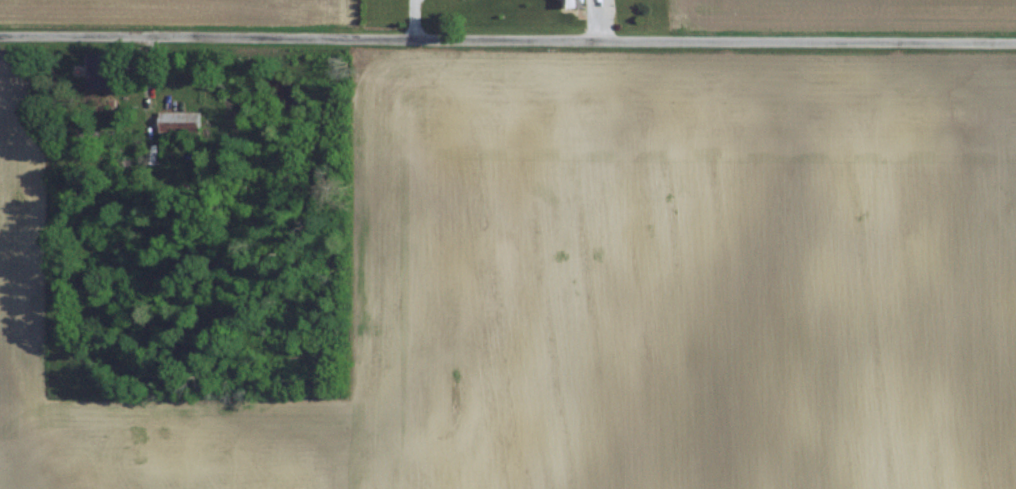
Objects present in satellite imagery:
road: (508, 54)

